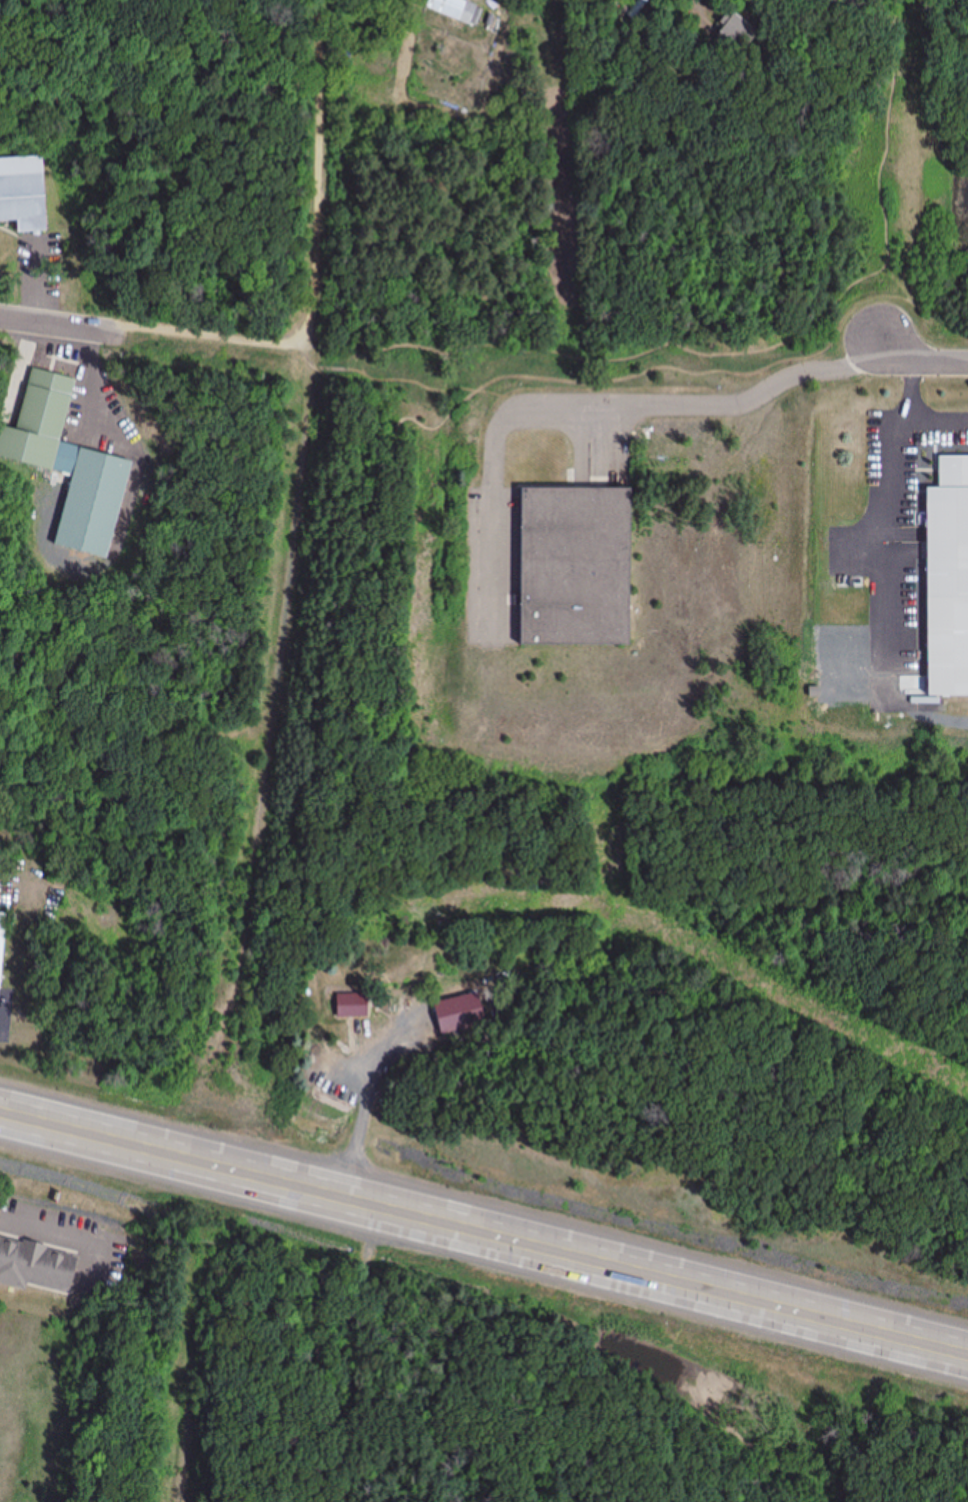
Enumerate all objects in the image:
building: (453, 10)
road: (64, 18)
building: (734, 30)
road: (110, 49)
park: (79, 57)
road: (319, 172)
building: (24, 194)
park: (889, 214)
road: (60, 324)
road: (212, 338)
road: (773, 339)
road: (920, 357)
road: (560, 372)
road: (938, 421)
building: (65, 466)
road: (895, 517)
road: (288, 521)
building: (571, 567)
building: (944, 581)
road: (137, 749)
building: (0, 929)
building: (349, 1006)
building: (456, 1014)
road: (484, 1232)
building: (37, 1265)
quarry: (227, 1353)
park: (466, 1441)
railway: (171, 1491)

